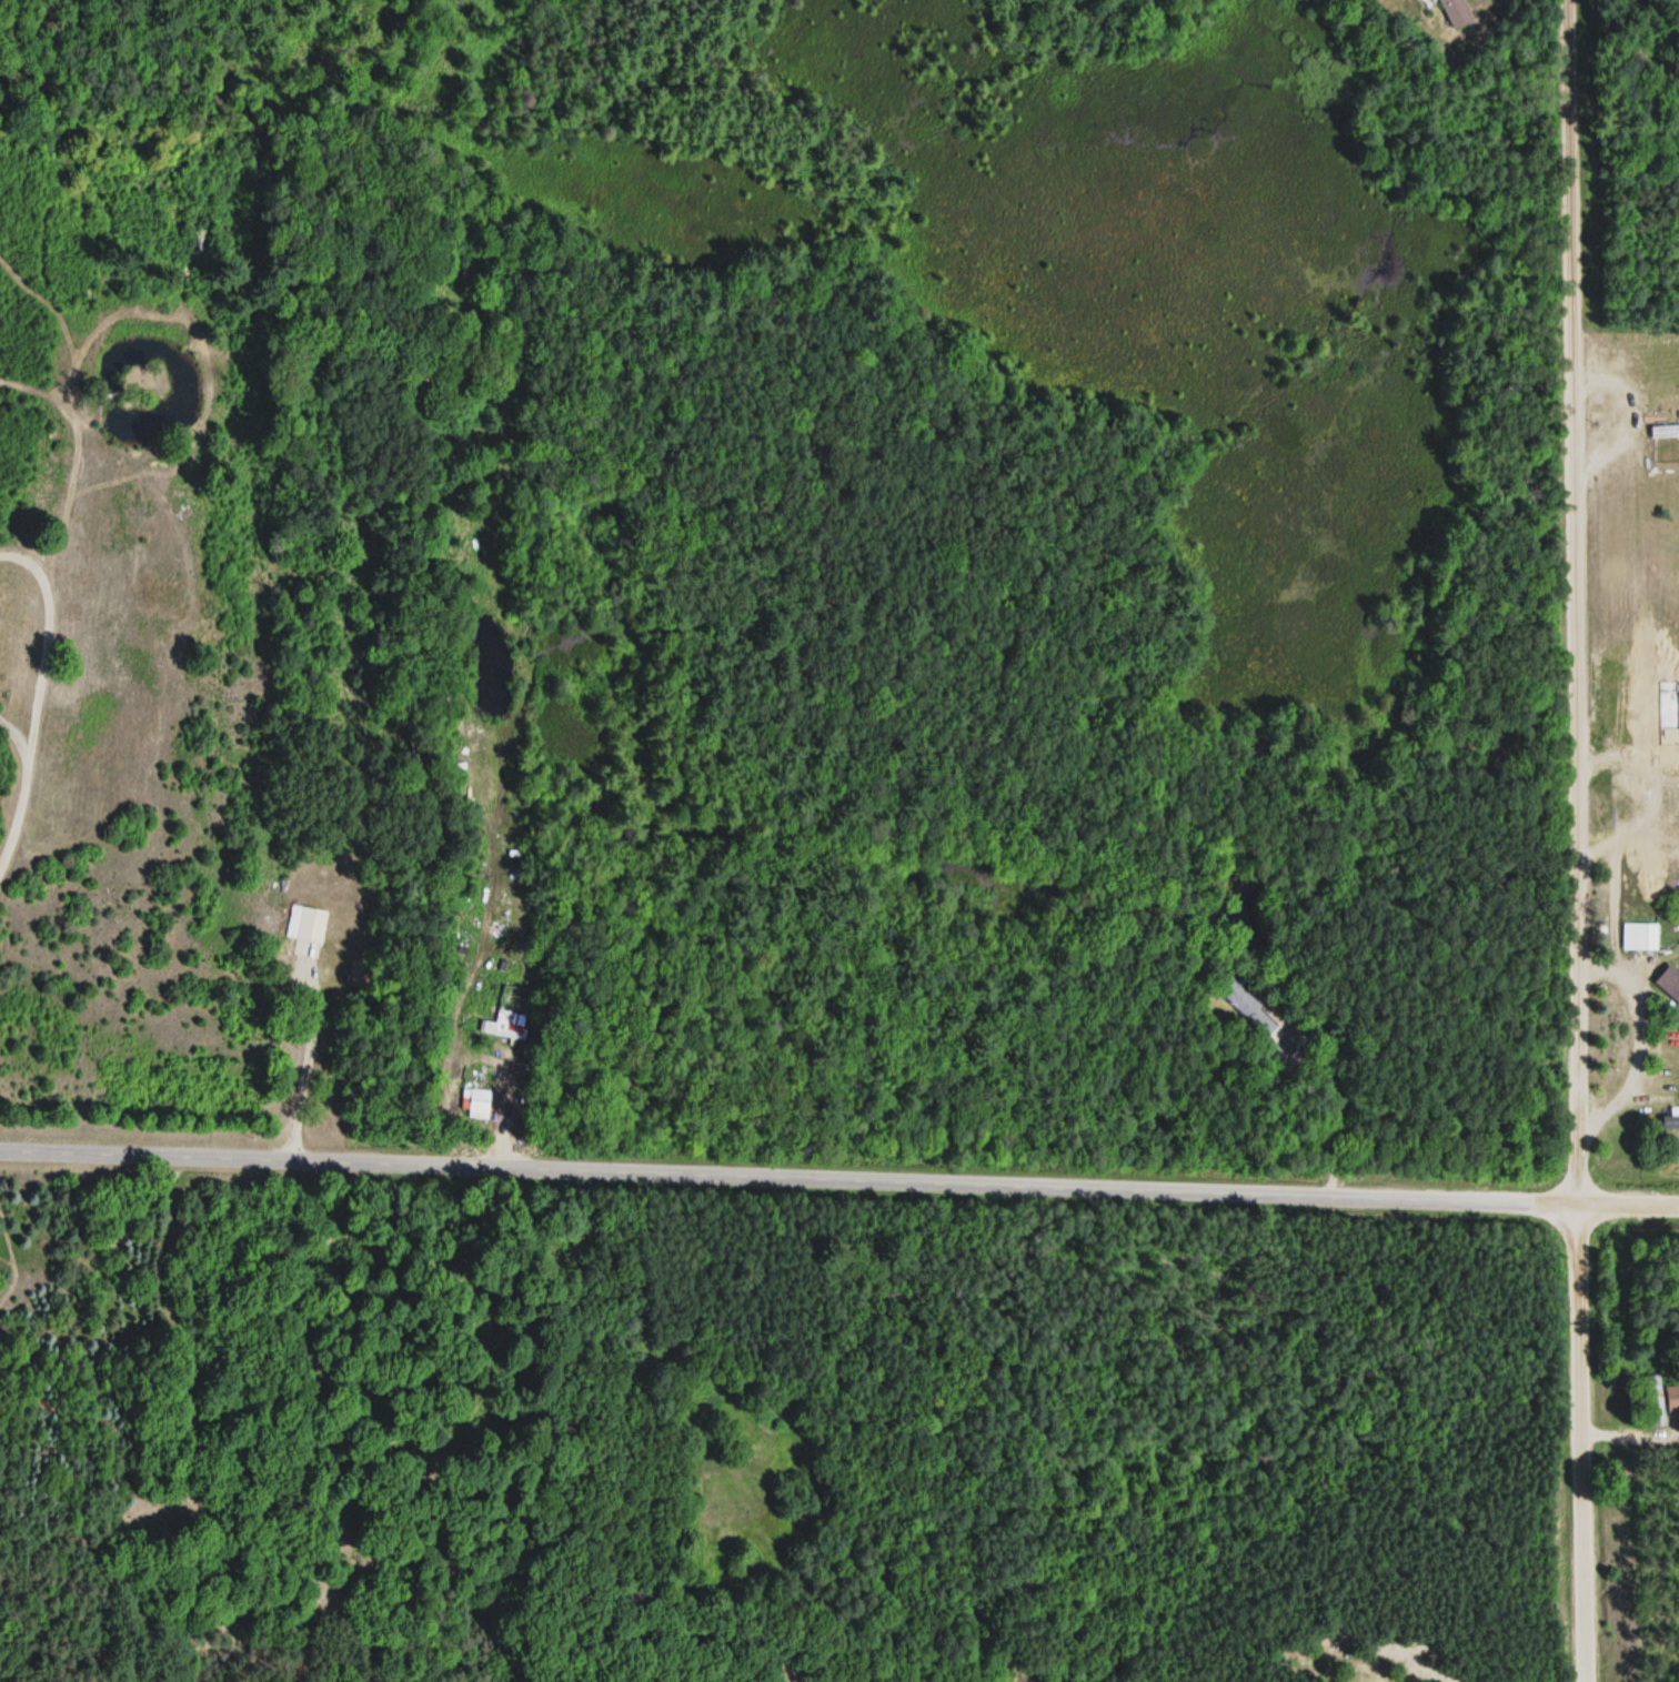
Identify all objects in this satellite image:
building: (1457, 13)
building: (1665, 433)
road: (1569, 601)
building: (1668, 711)
building: (306, 930)
building: (1638, 937)
building: (1670, 983)
building: (1244, 1008)
building: (501, 1030)
road: (306, 1060)
building: (476, 1105)
building: (1672, 1117)
road: (787, 1176)
road: (1627, 1202)
building: (1672, 1399)
building: (1656, 1401)
road: (1580, 1442)

